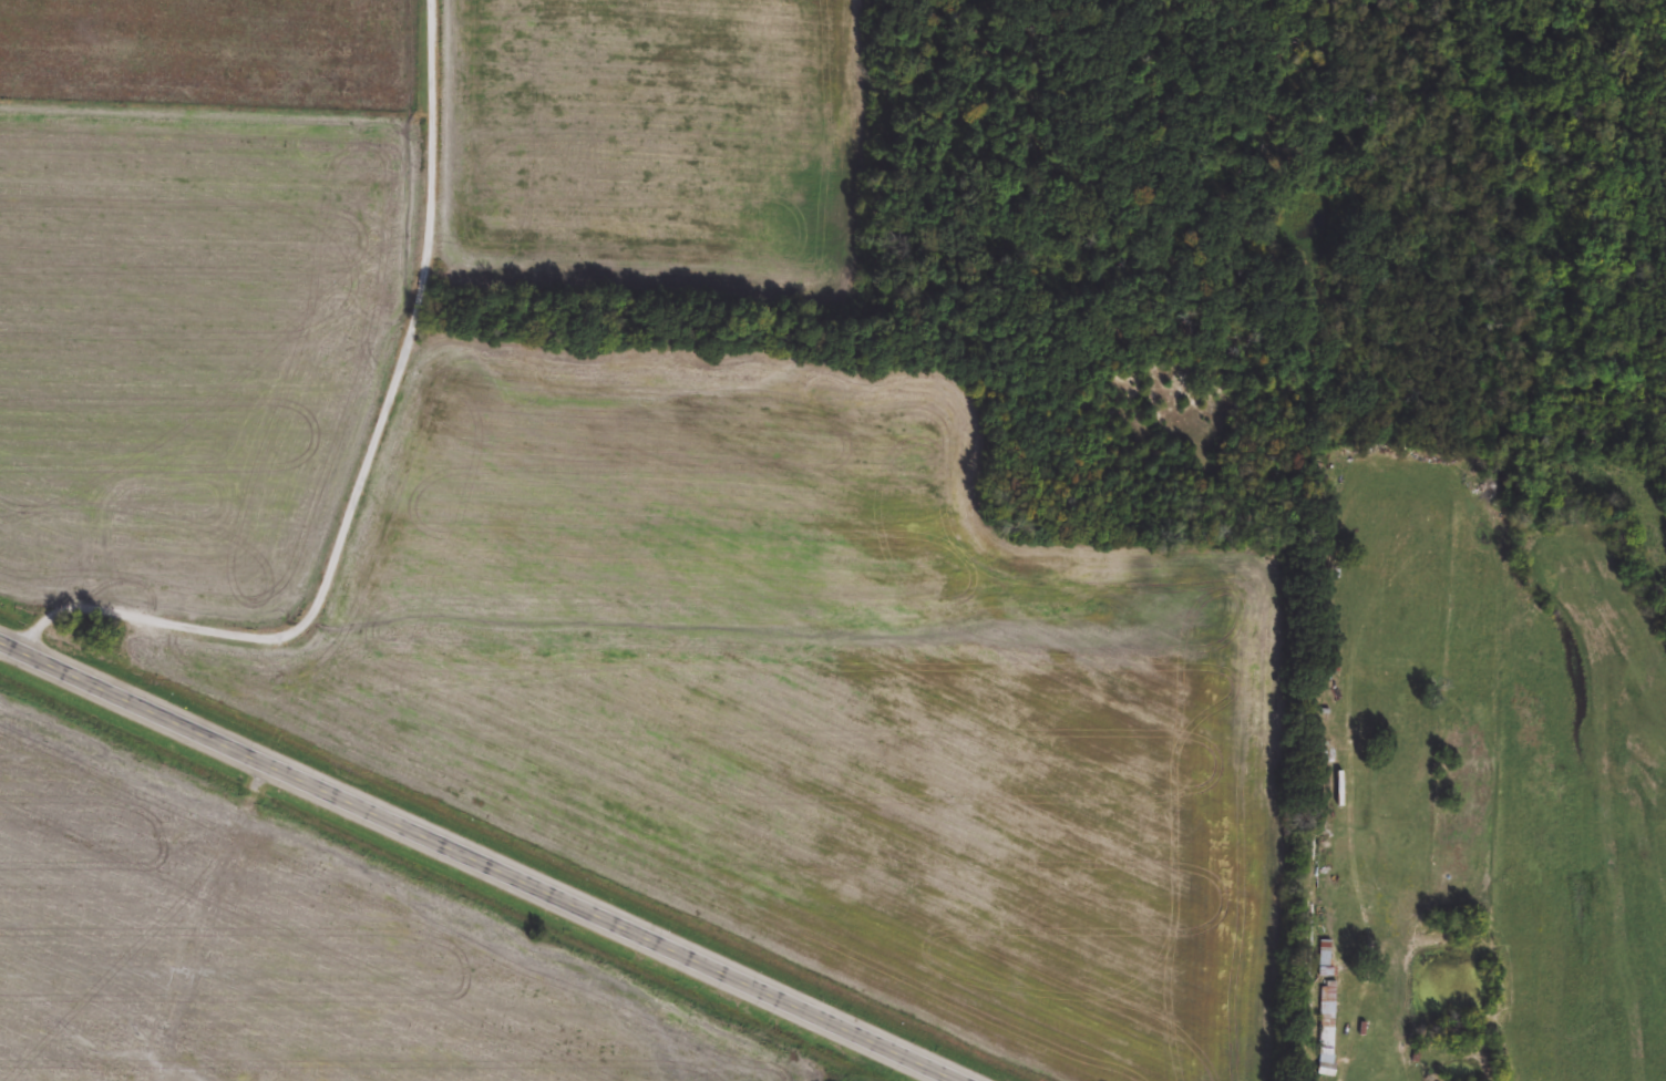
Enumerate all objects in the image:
road: (363, 463)
railway: (501, 846)
road: (476, 858)
building: (1327, 964)
building: (1328, 1032)

